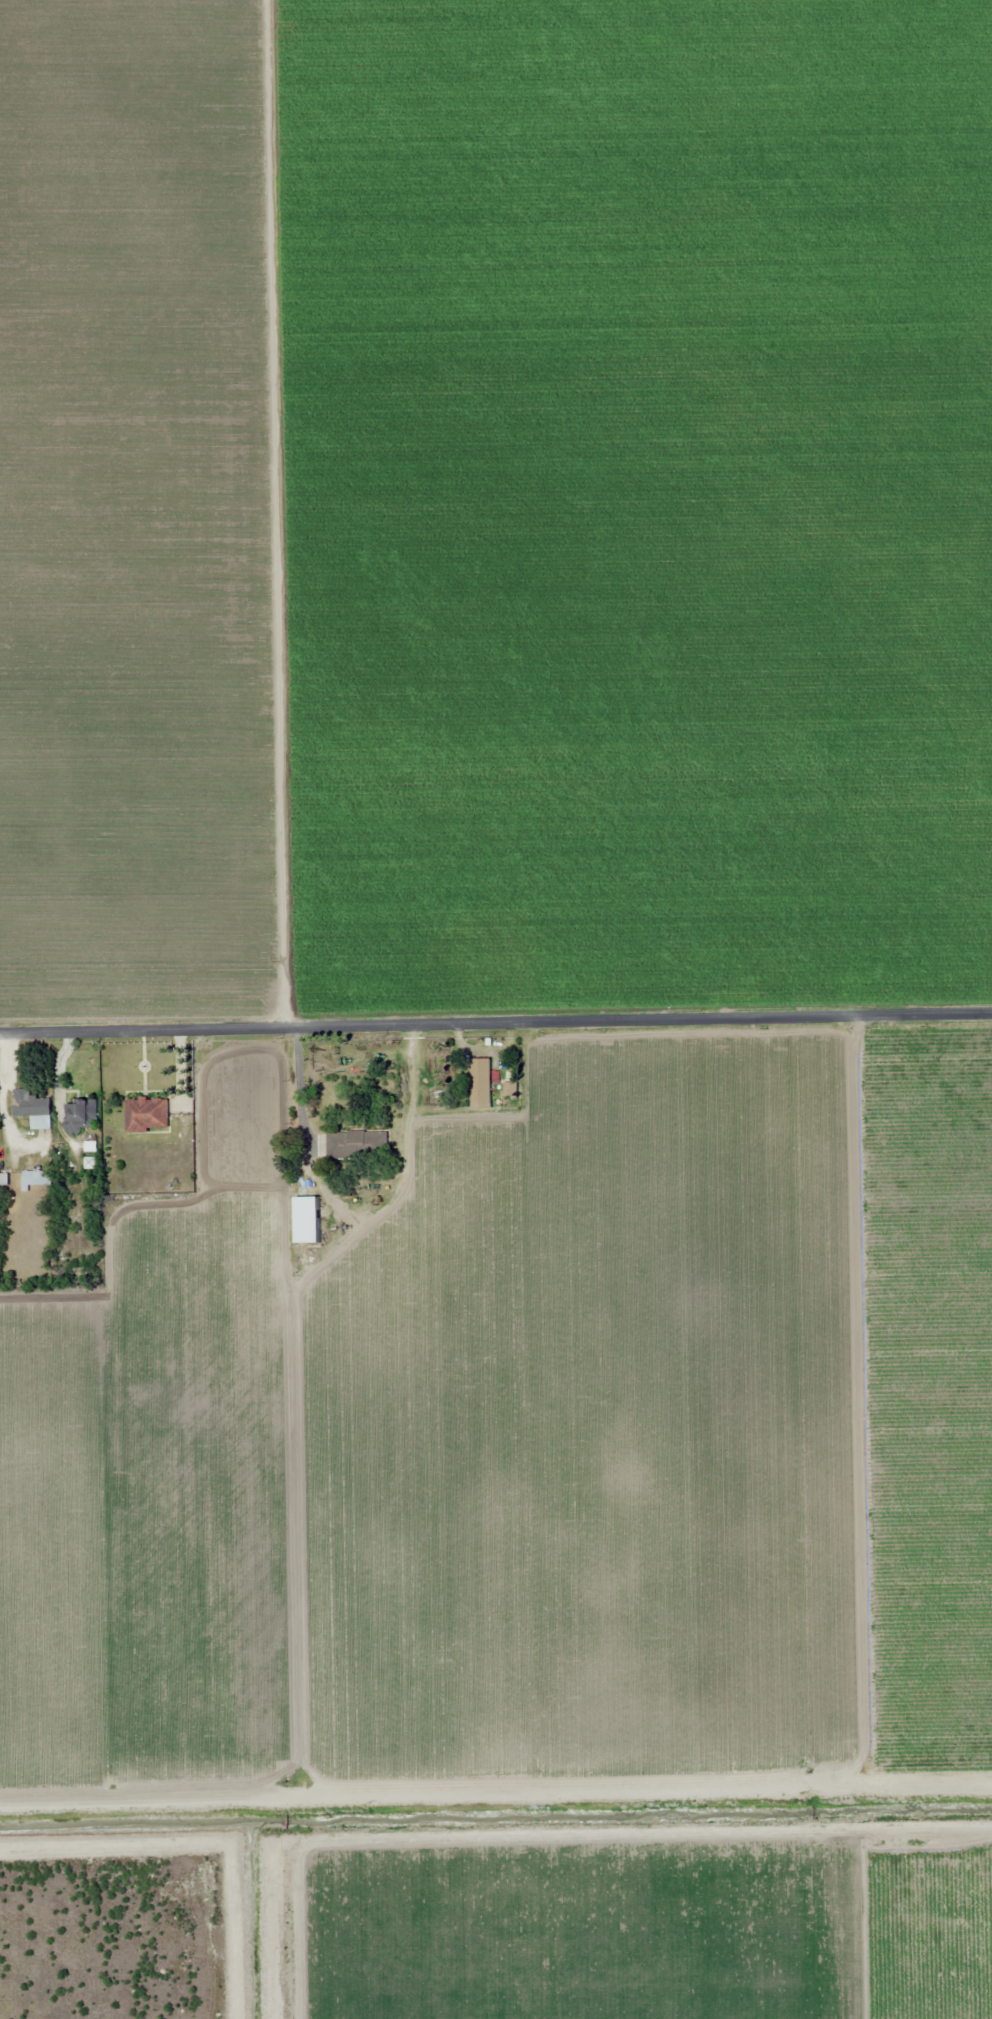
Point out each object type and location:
road: (496, 1024)
building: (479, 1081)
building: (32, 1109)
building: (80, 1116)
building: (357, 1145)
building: (35, 1177)
building: (300, 1195)

